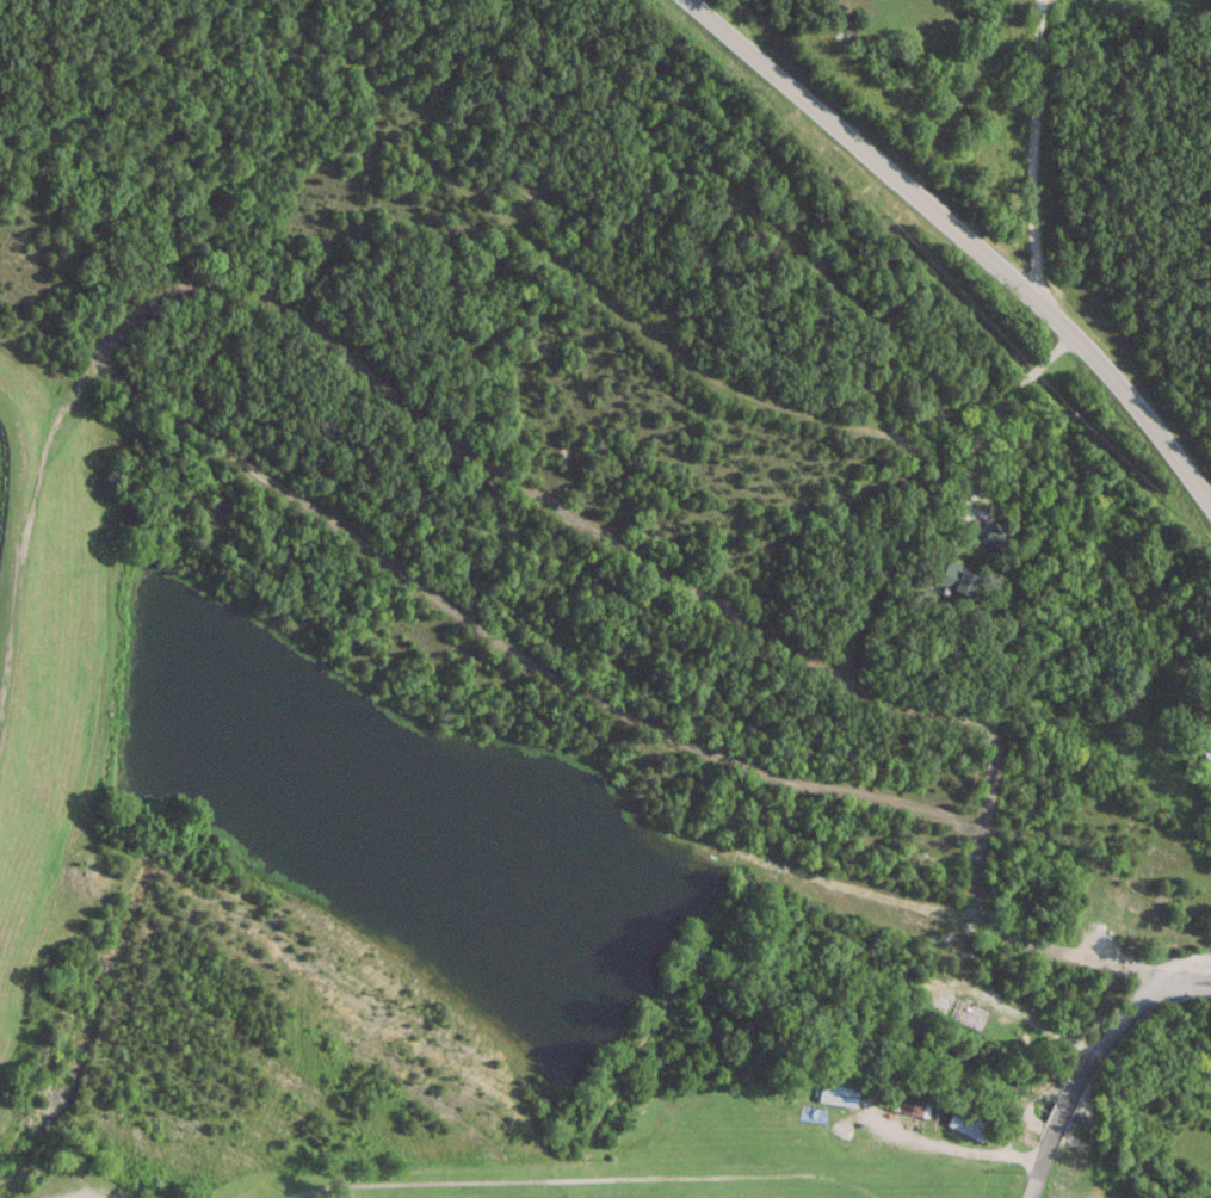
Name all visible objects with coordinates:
road: (1028, 148)
road: (964, 236)
road: (35, 350)
road: (799, 382)
road: (987, 426)
road: (452, 427)
building: (995, 536)
building: (954, 578)
dam: (44, 653)
road: (623, 711)
road: (36, 712)
road: (923, 720)
building: (1203, 740)
road: (1043, 1024)
road: (1096, 1060)
building: (838, 1094)
building: (910, 1098)
building: (968, 1122)
dam: (2, 1126)
road: (956, 1151)

